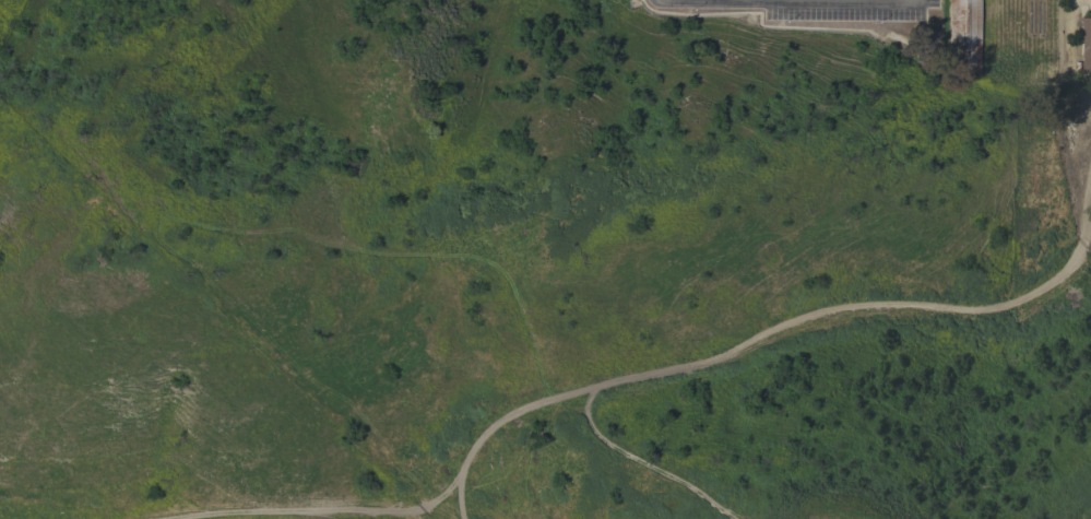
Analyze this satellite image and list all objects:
road: (786, 0)
parking lot: (843, 10)
street lamp: (782, 23)
street lamp: (875, 23)
building: (964, 36)
building: (1086, 40)
road: (771, 333)
road: (639, 461)

